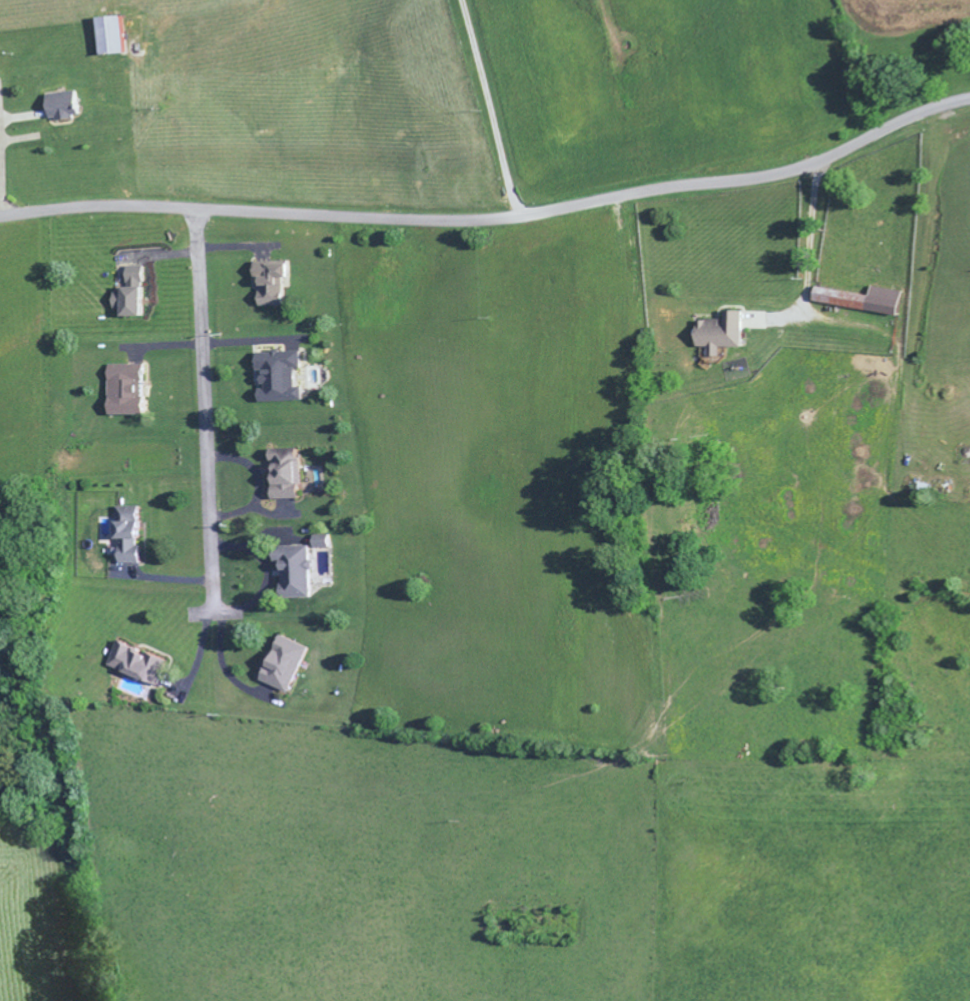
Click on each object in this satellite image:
building: (120, 35)
building: (71, 105)
road: (490, 109)
road: (2, 177)
road: (493, 222)
road: (200, 248)
road: (809, 254)
building: (280, 281)
building: (138, 293)
building: (867, 299)
building: (728, 332)
building: (288, 374)
building: (132, 387)
road: (205, 412)
road: (261, 485)
building: (137, 534)
building: (330, 542)
building: (303, 569)
road: (247, 608)
building: (148, 661)
building: (292, 662)
road: (225, 663)

